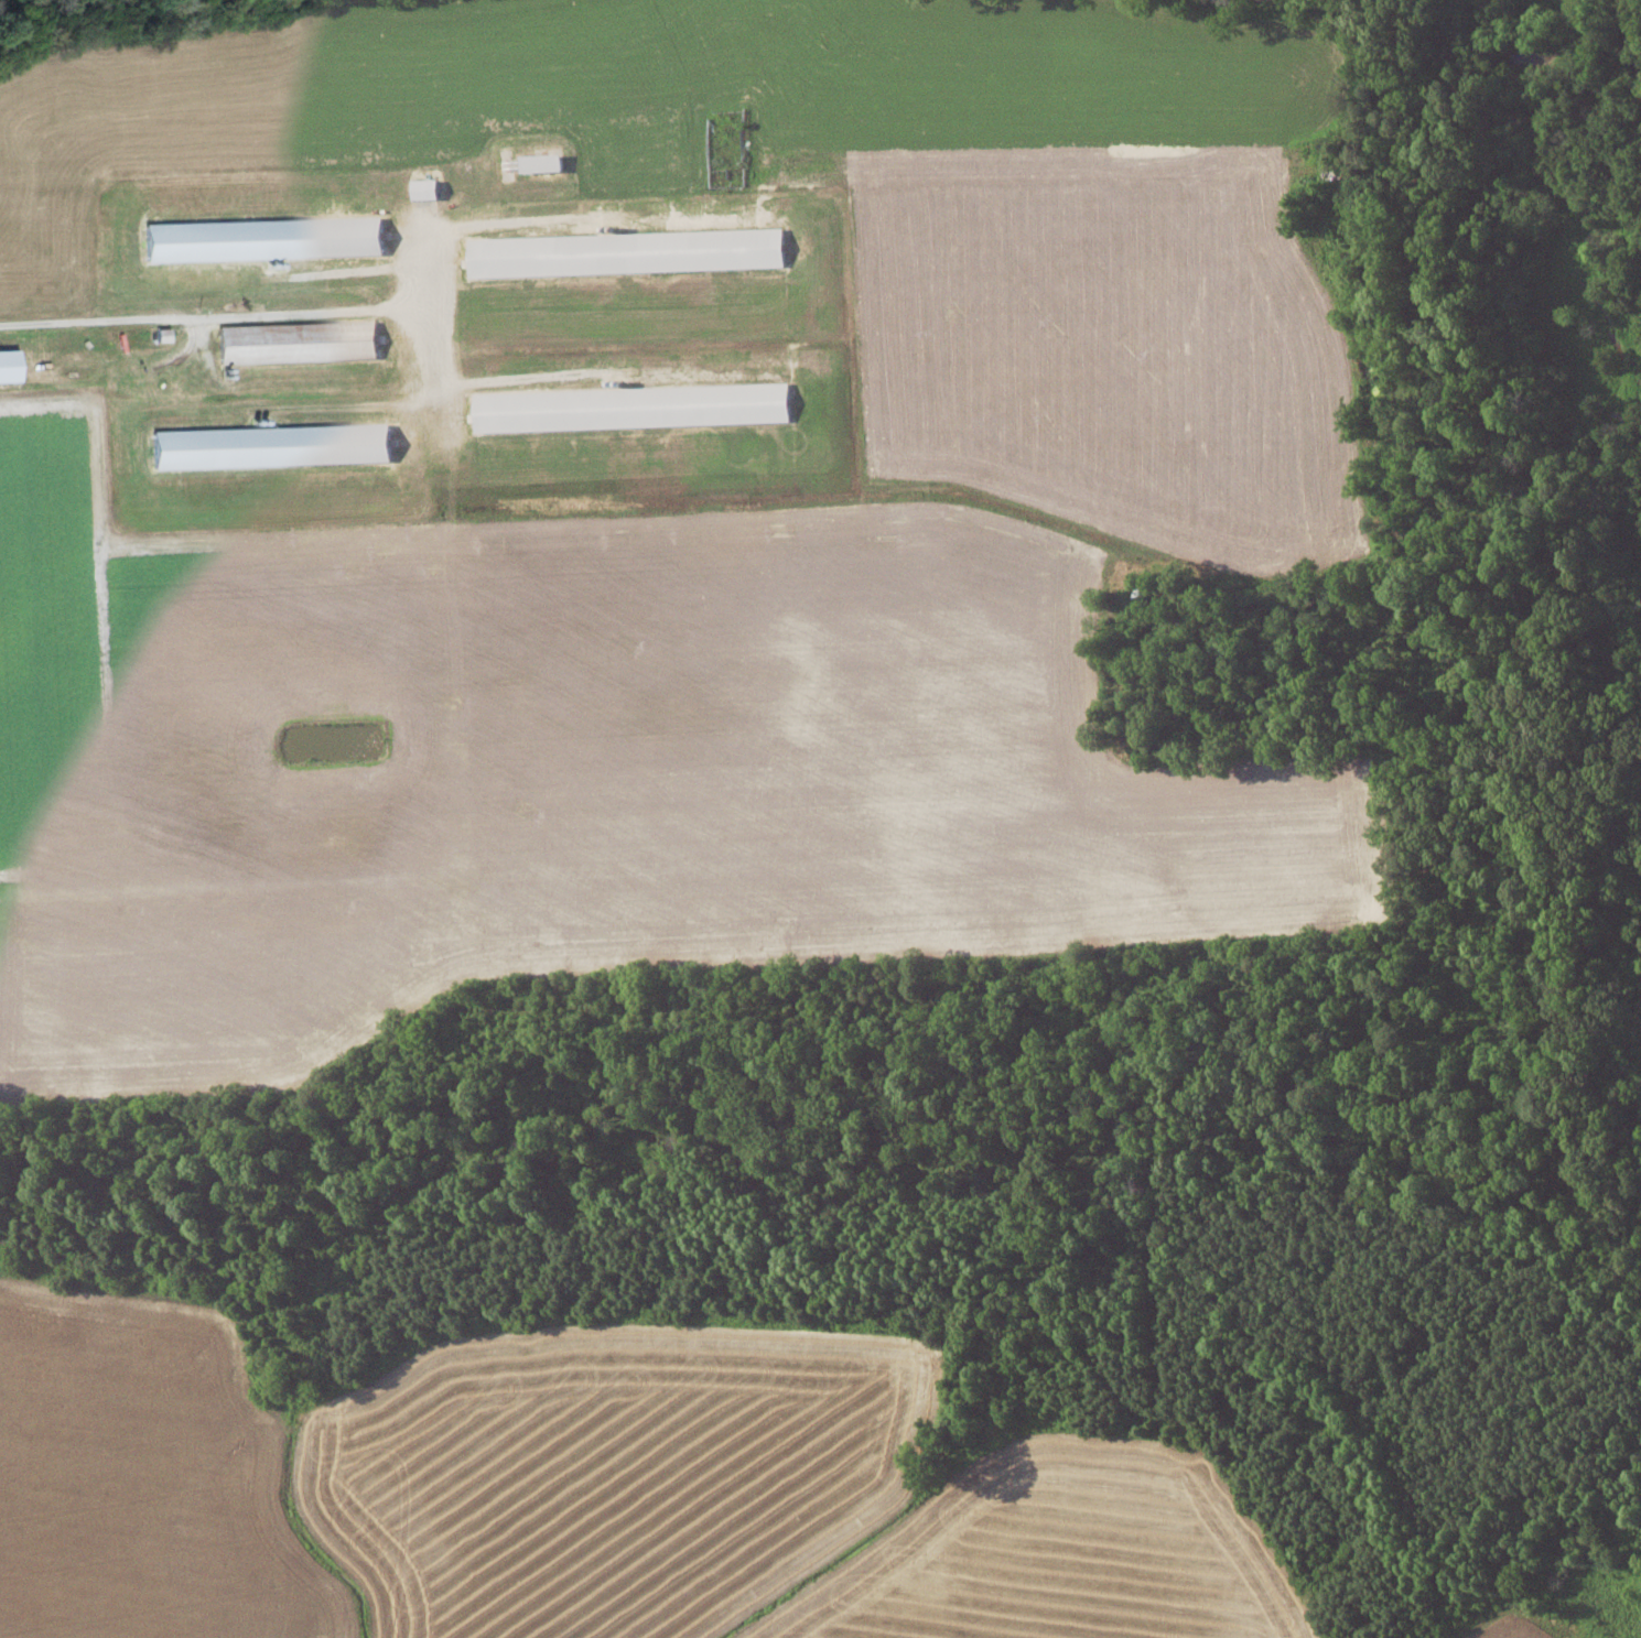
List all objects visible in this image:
building: (540, 162)
building: (424, 188)
building: (262, 238)
building: (626, 252)
road: (256, 314)
building: (296, 340)
road: (431, 379)
building: (631, 406)
building: (270, 445)

